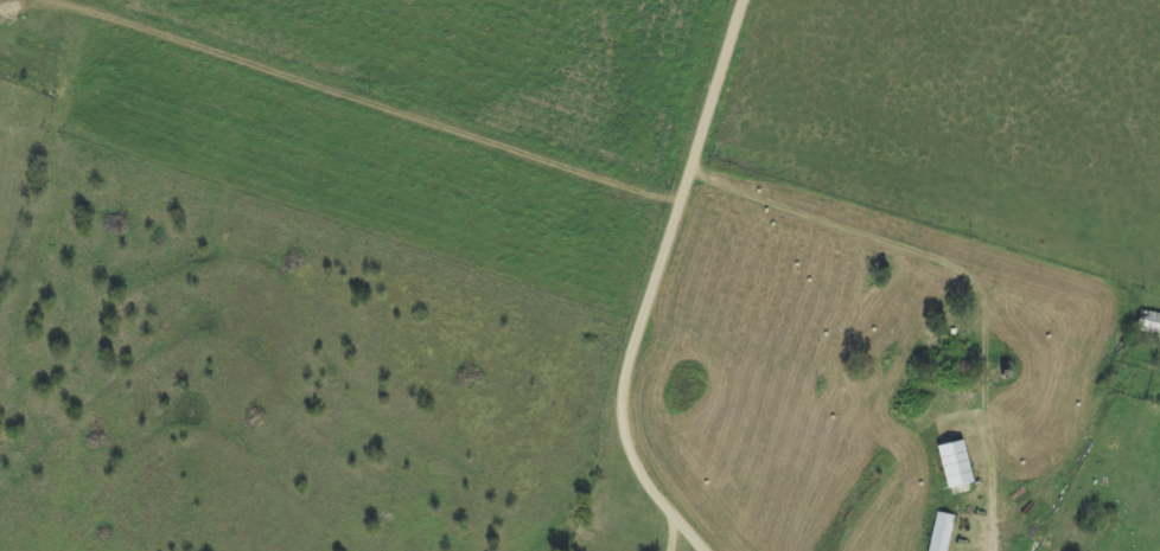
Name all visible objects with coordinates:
road: (1, 1)
road: (95, 36)
road: (446, 88)
road: (664, 283)
building: (1149, 323)
building: (942, 532)

